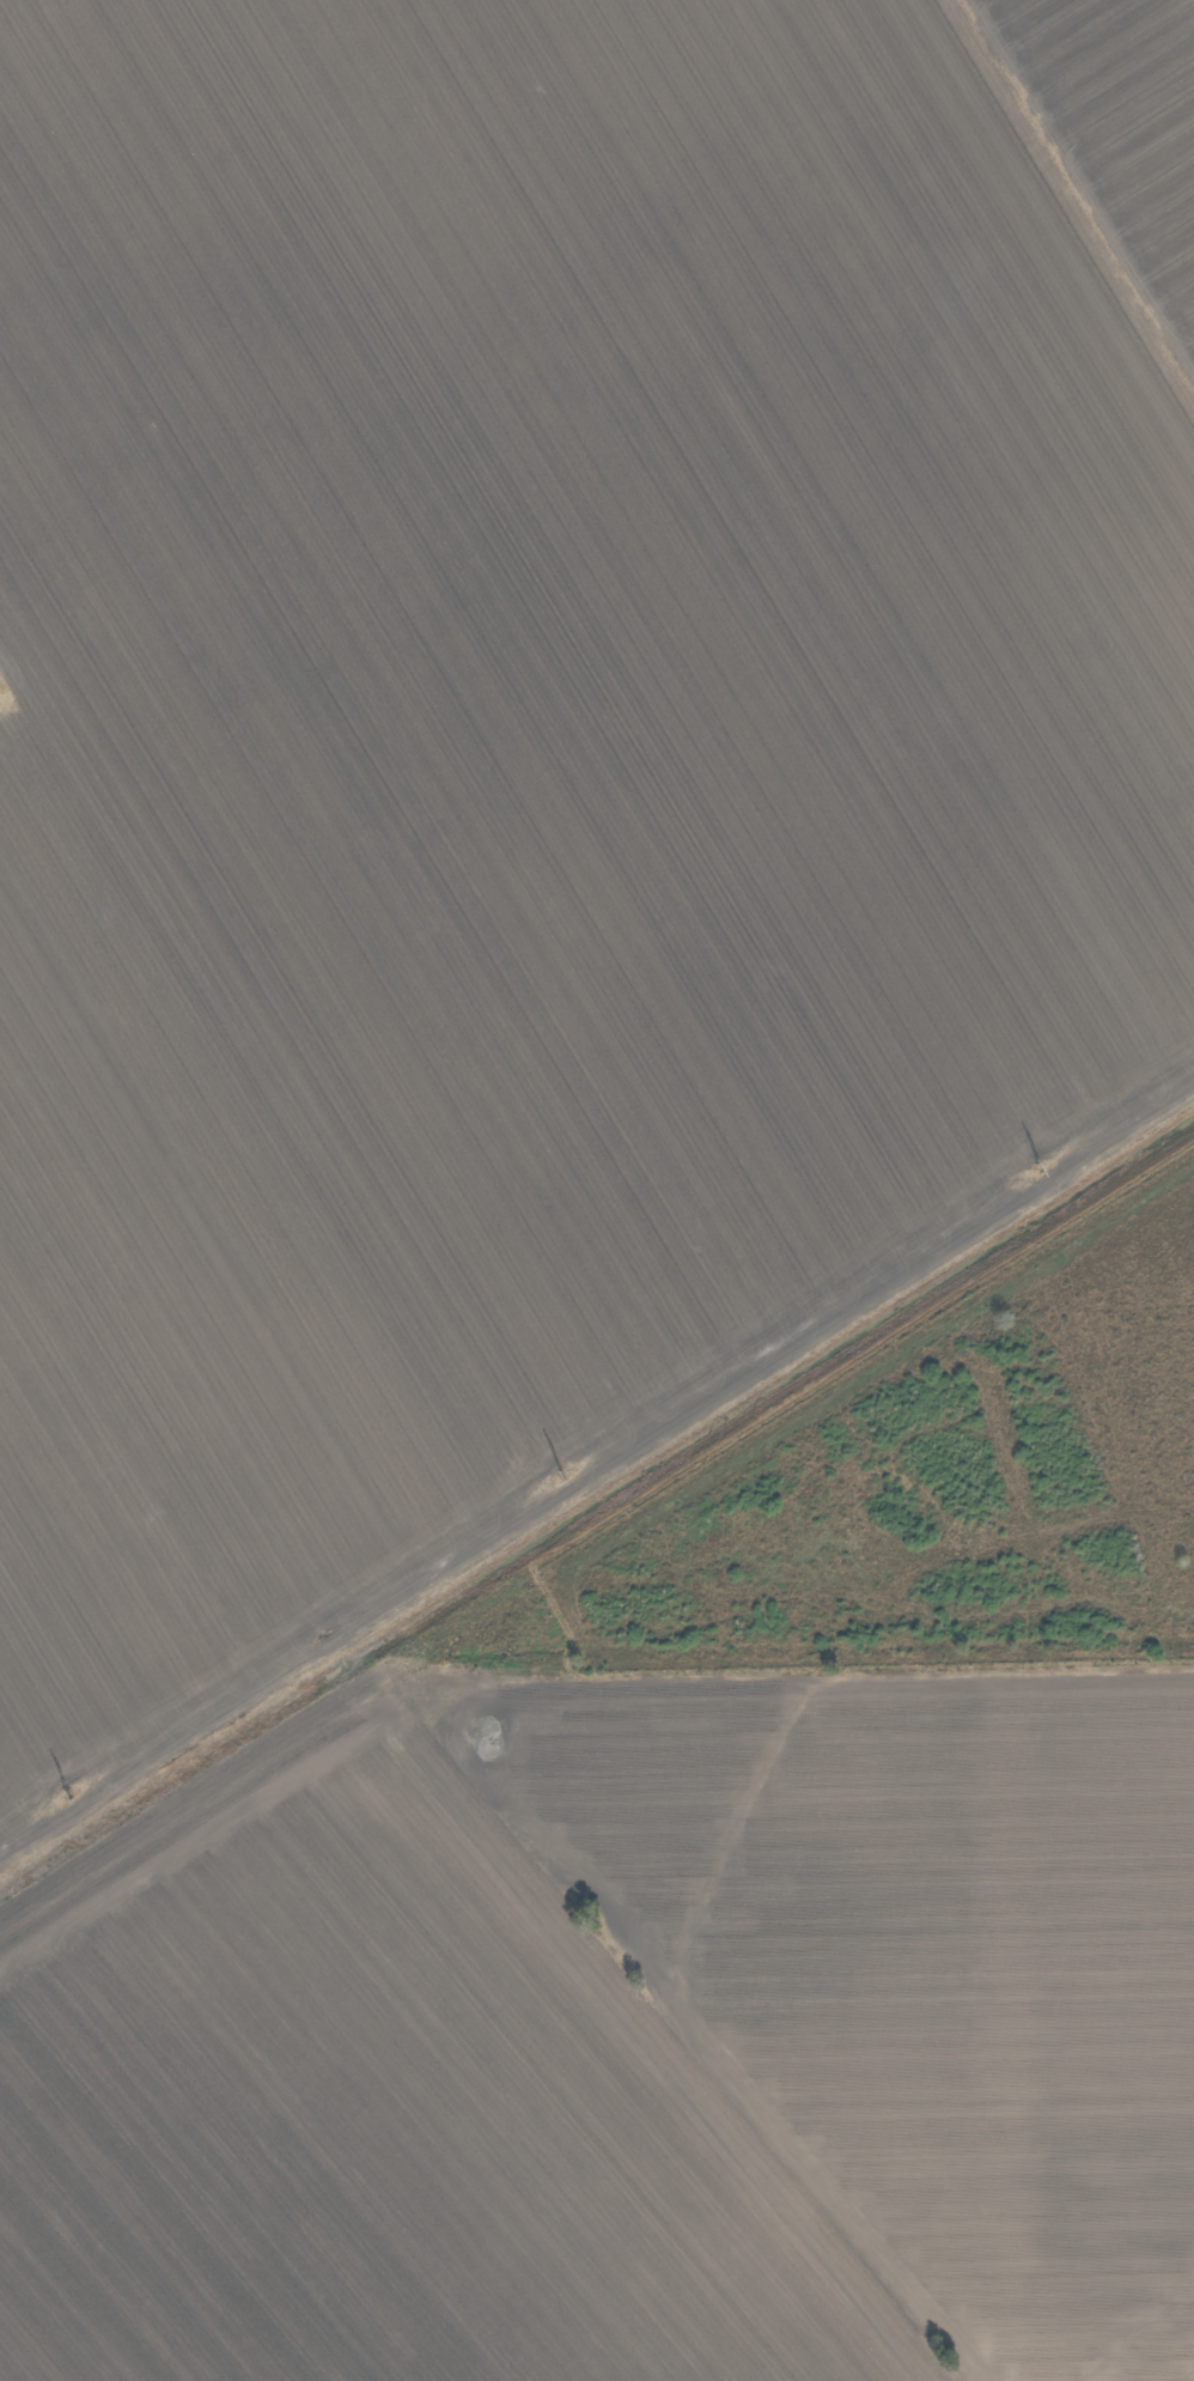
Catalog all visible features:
power tower: (1043, 1170)
power tower: (564, 1477)
power tower: (71, 1796)

